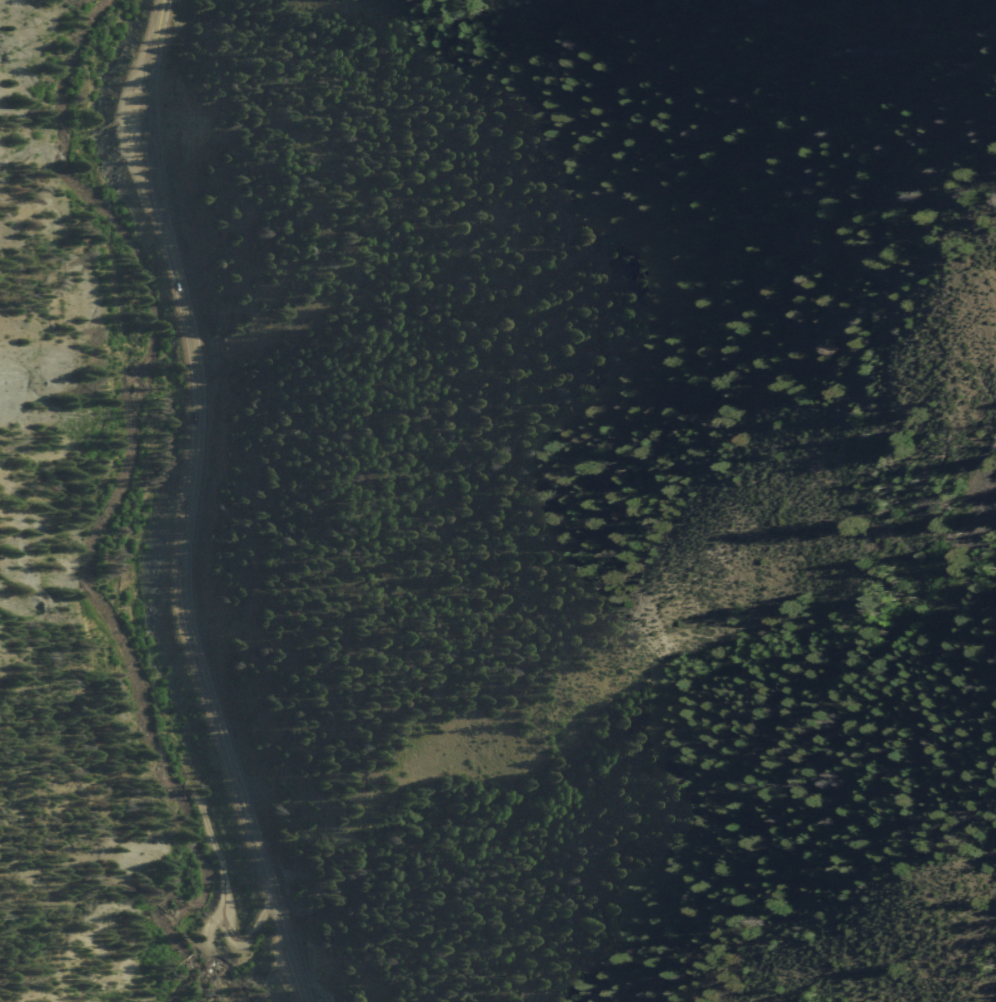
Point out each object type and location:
road: (188, 506)

